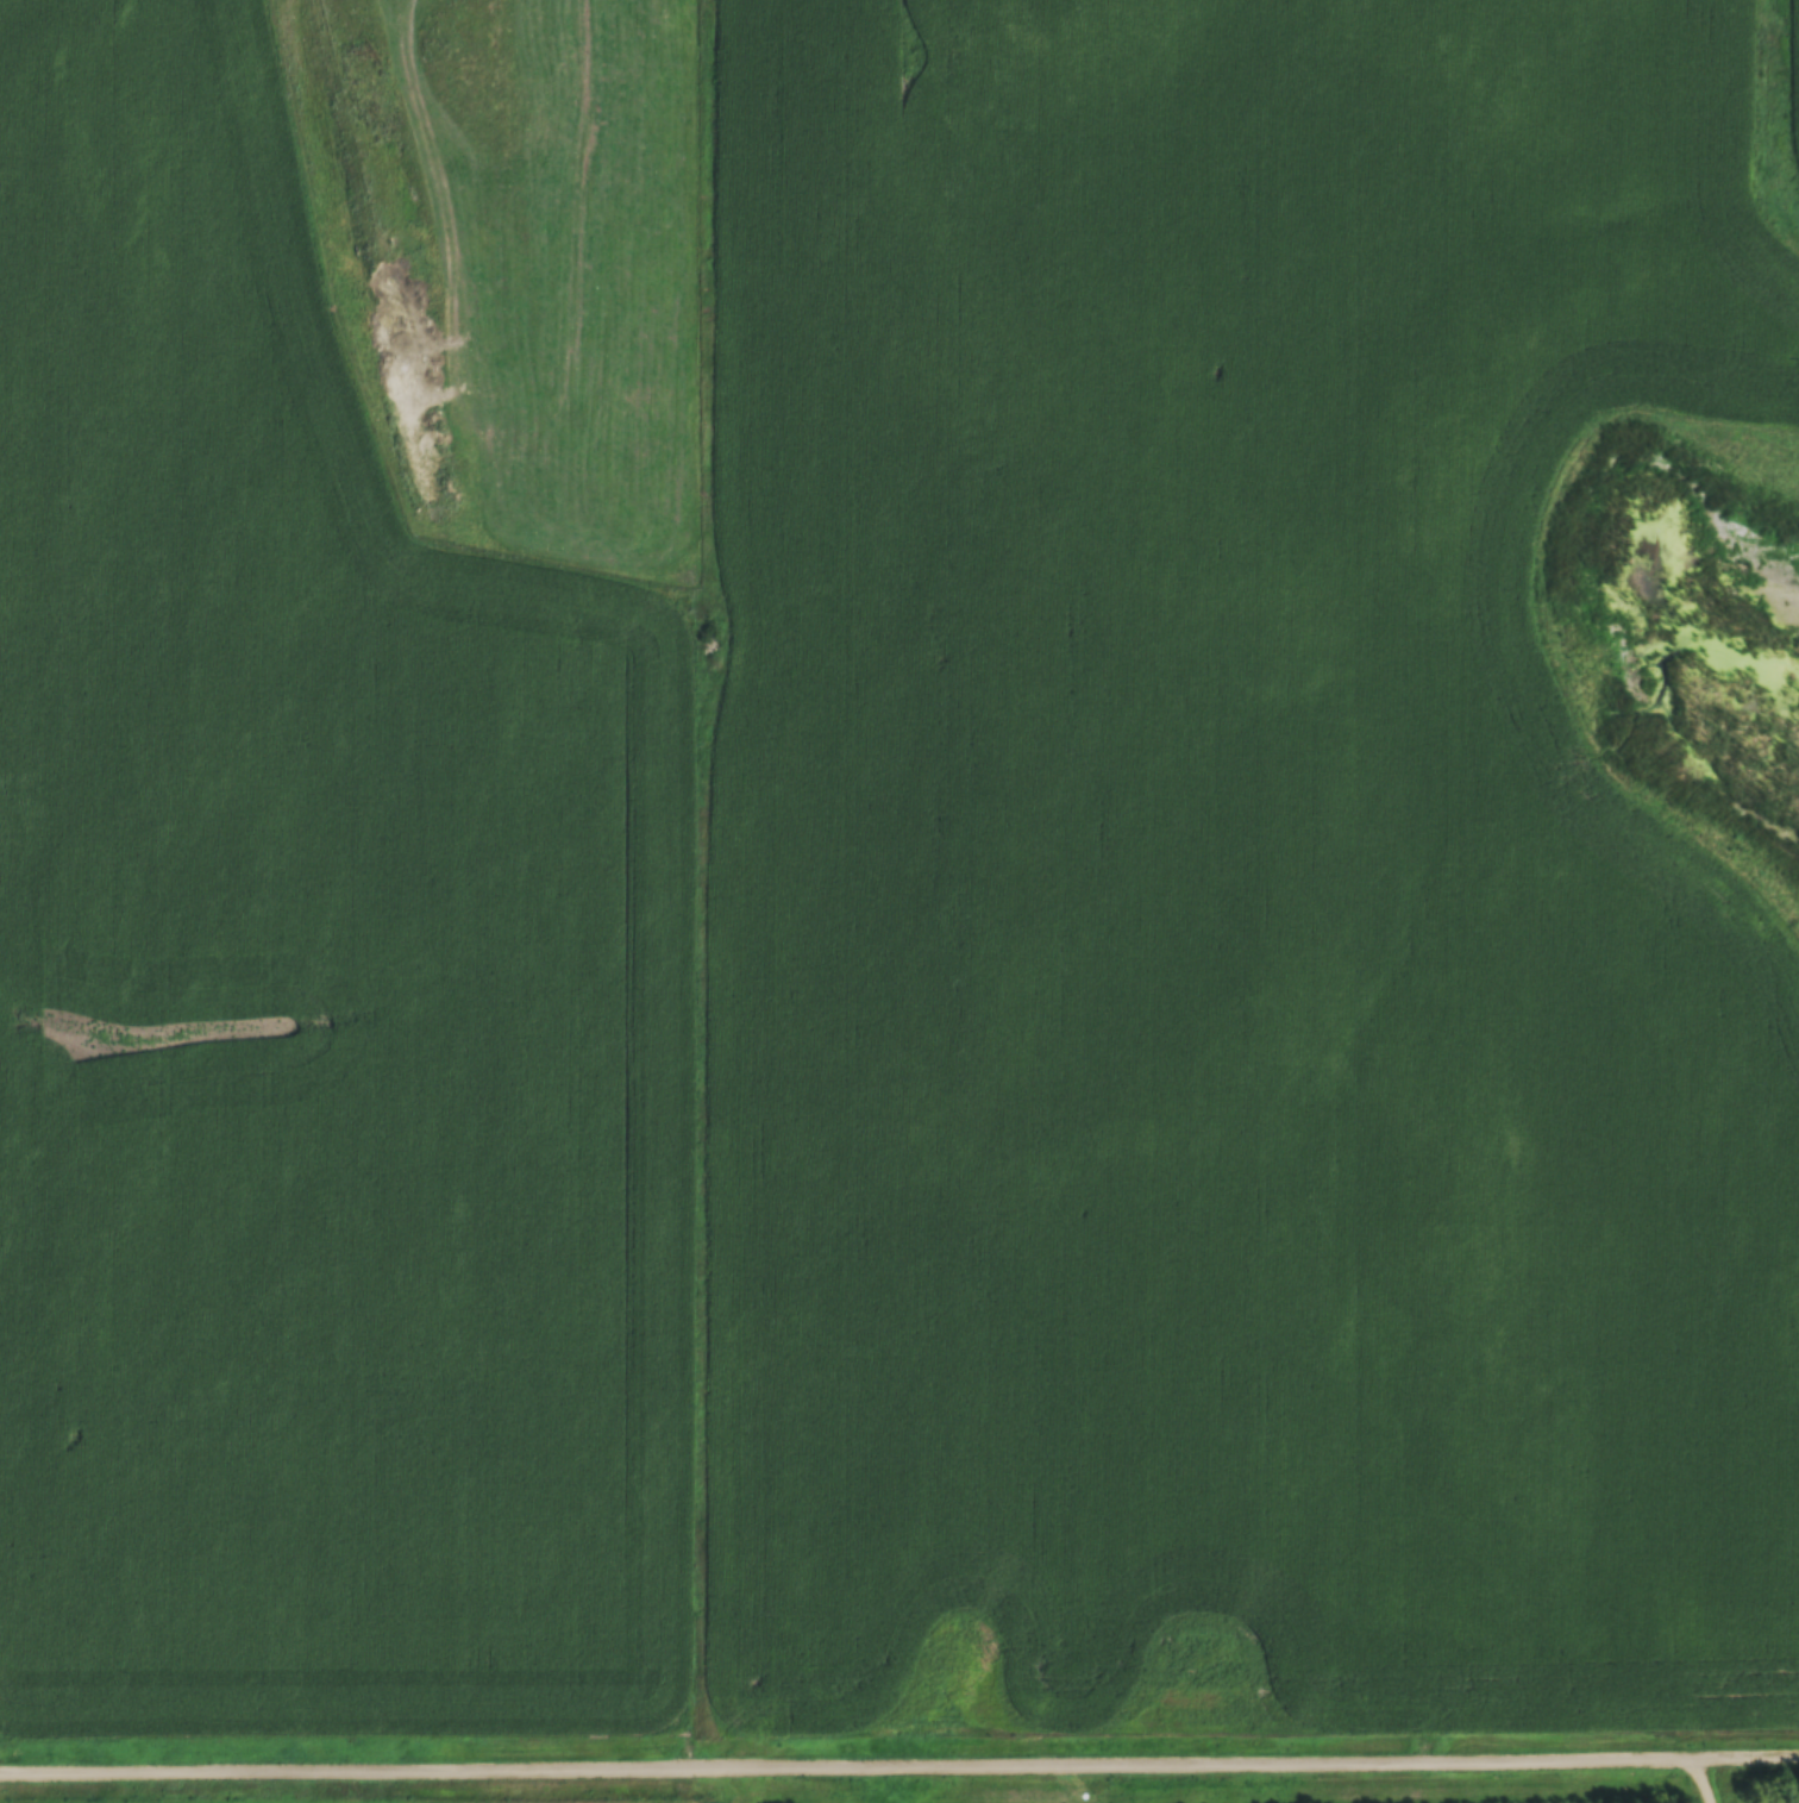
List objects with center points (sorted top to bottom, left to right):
road: (899, 1763)
road: (1704, 1778)

